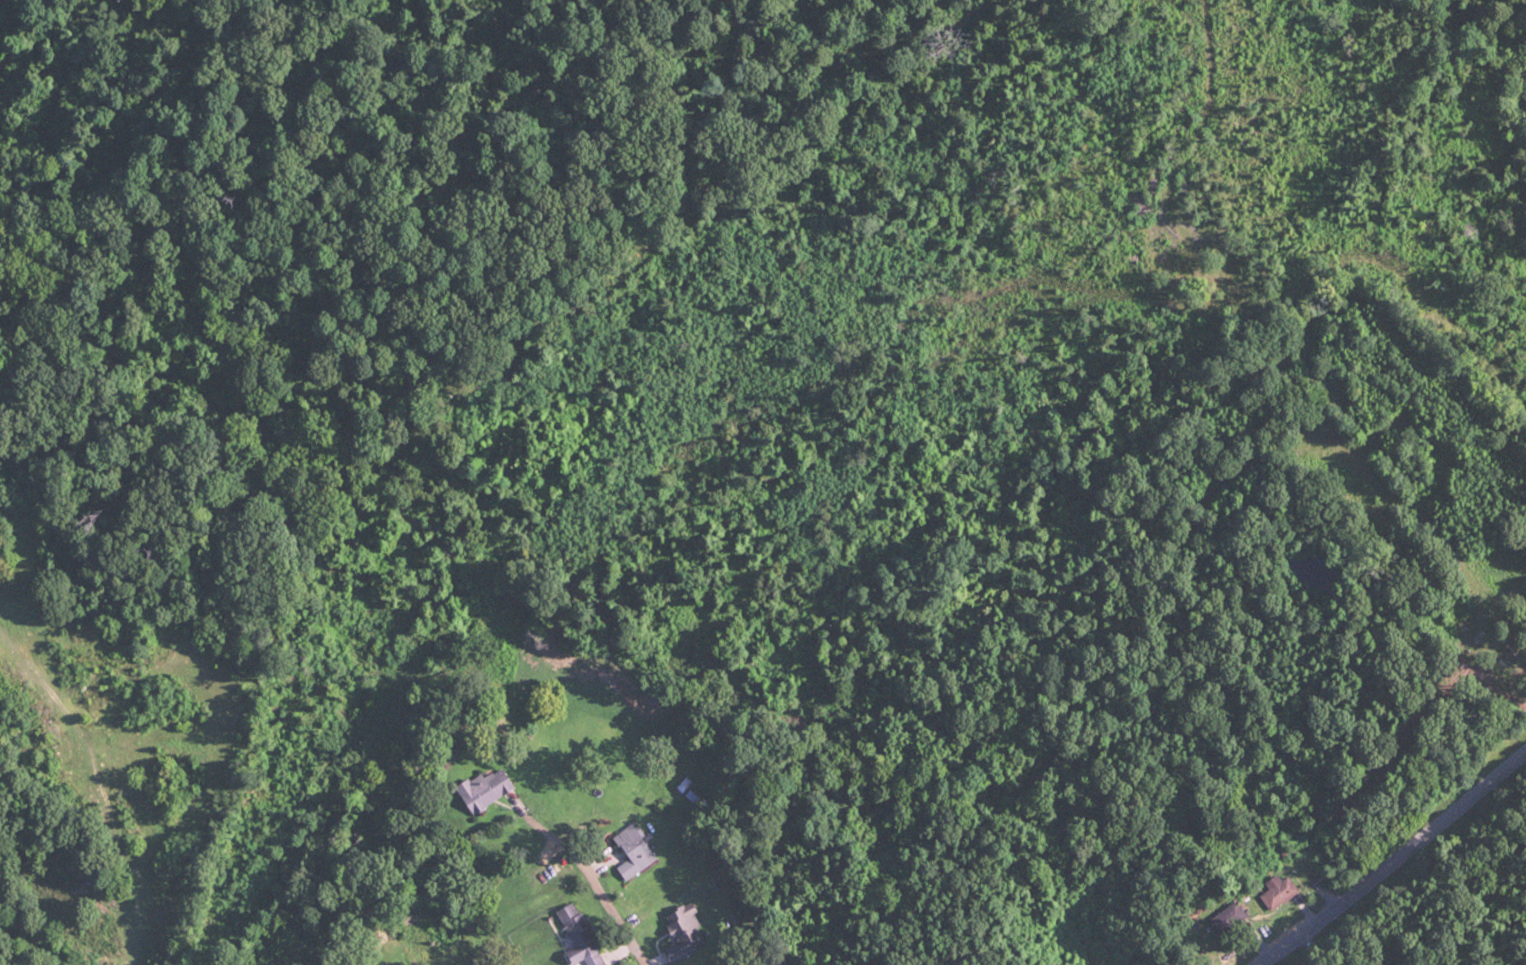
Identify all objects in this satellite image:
building: (1458, 622)
building: (485, 789)
building: (633, 851)
road: (1381, 855)
road: (588, 882)
building: (1276, 891)
building: (1226, 918)
building: (578, 935)

